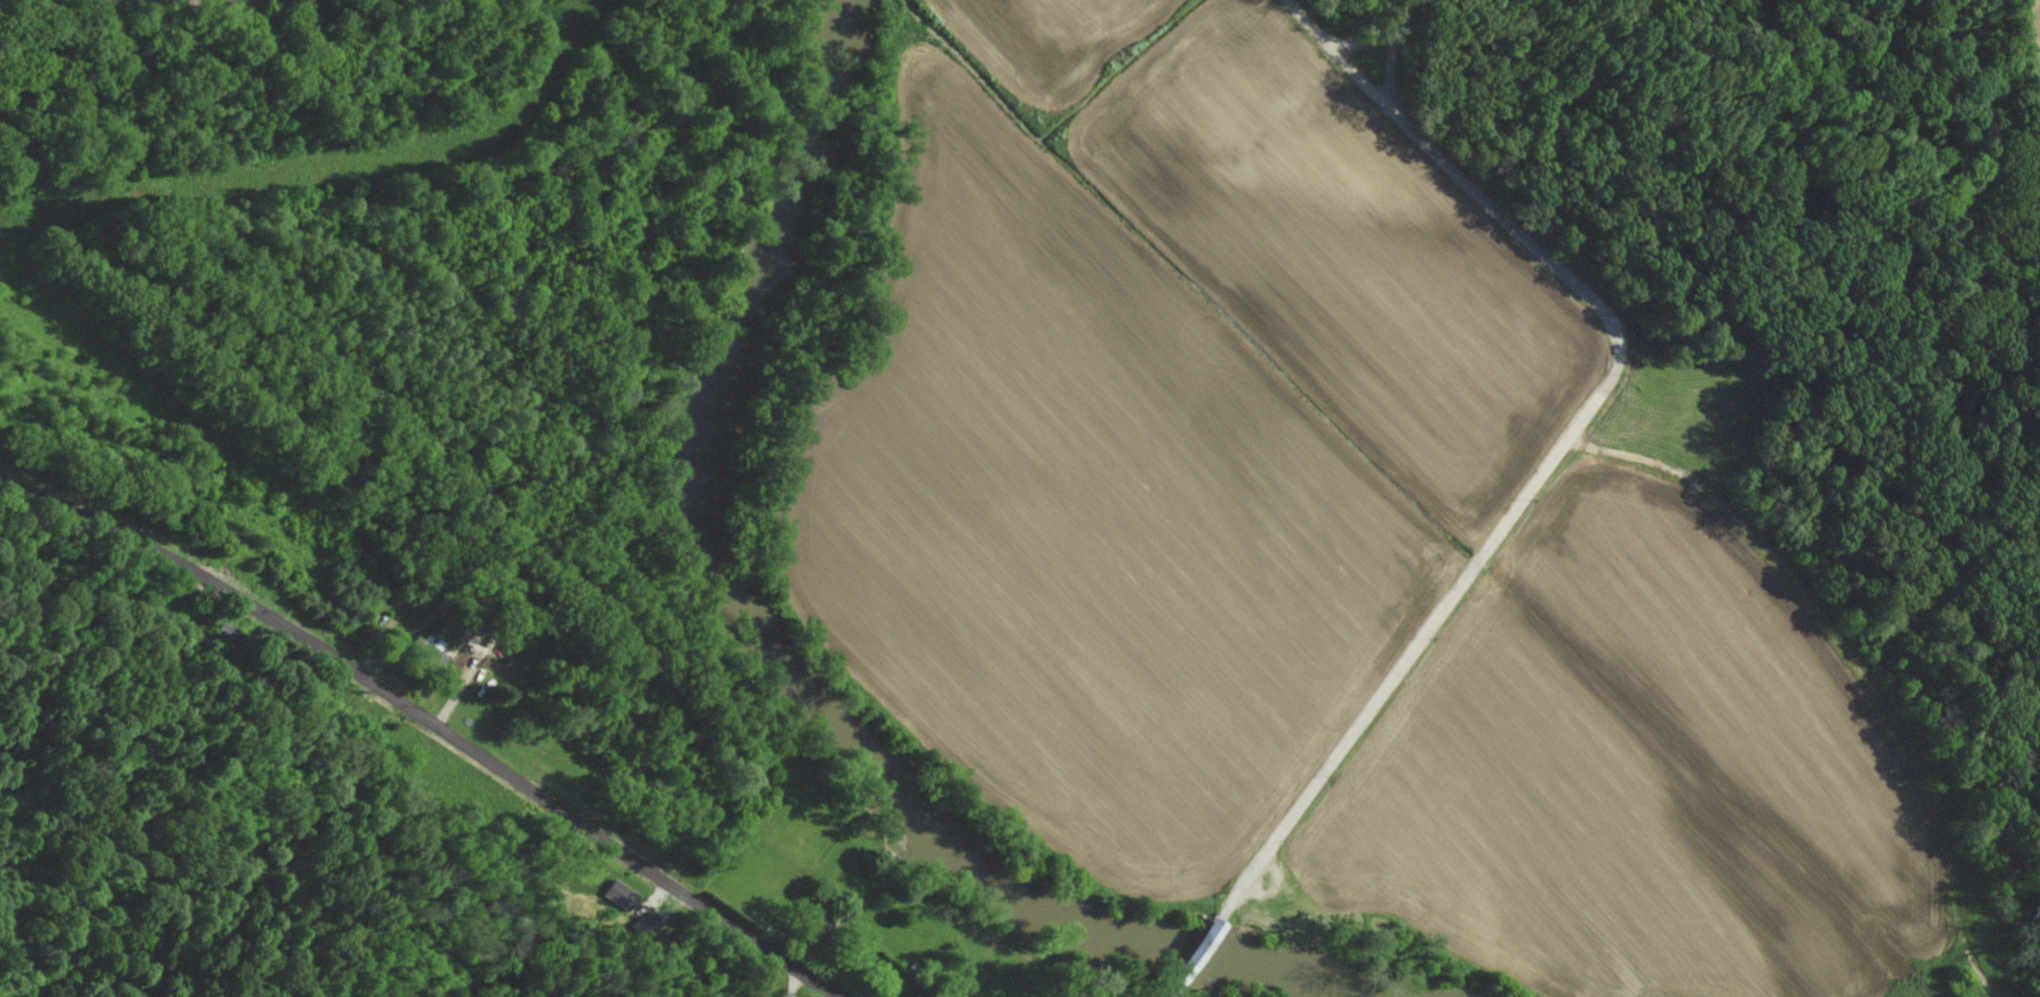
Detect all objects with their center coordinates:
road: (1325, 35)
road: (1382, 35)
road: (1512, 225)
river: (731, 603)
building: (424, 650)
road: (1408, 652)
road: (421, 724)
building: (619, 894)
building: (645, 924)
road: (1192, 957)
river: (1297, 976)

